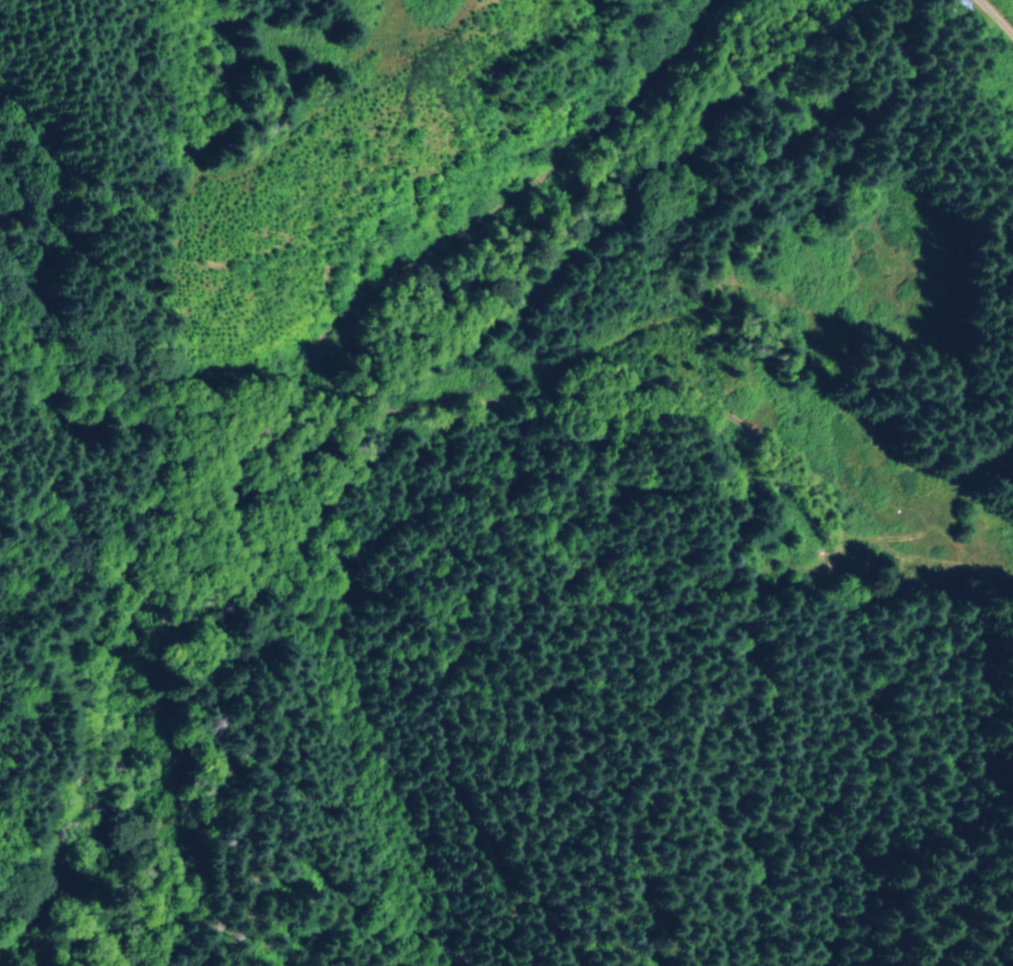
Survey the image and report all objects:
road: (955, 70)

